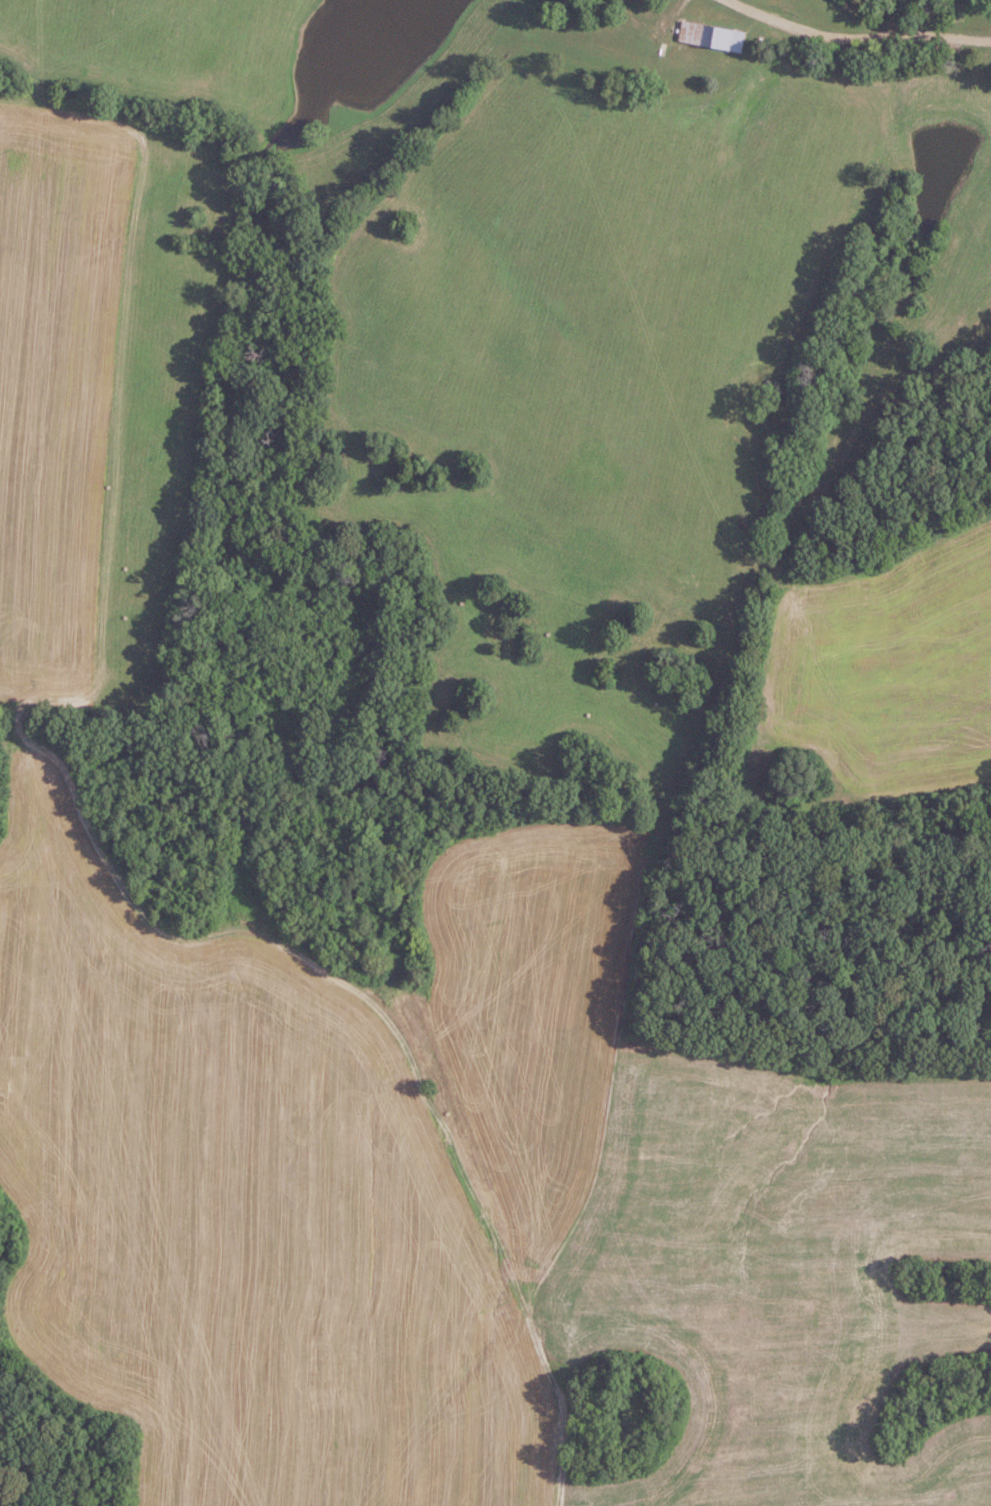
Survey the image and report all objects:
building: (712, 36)
road: (855, 37)

